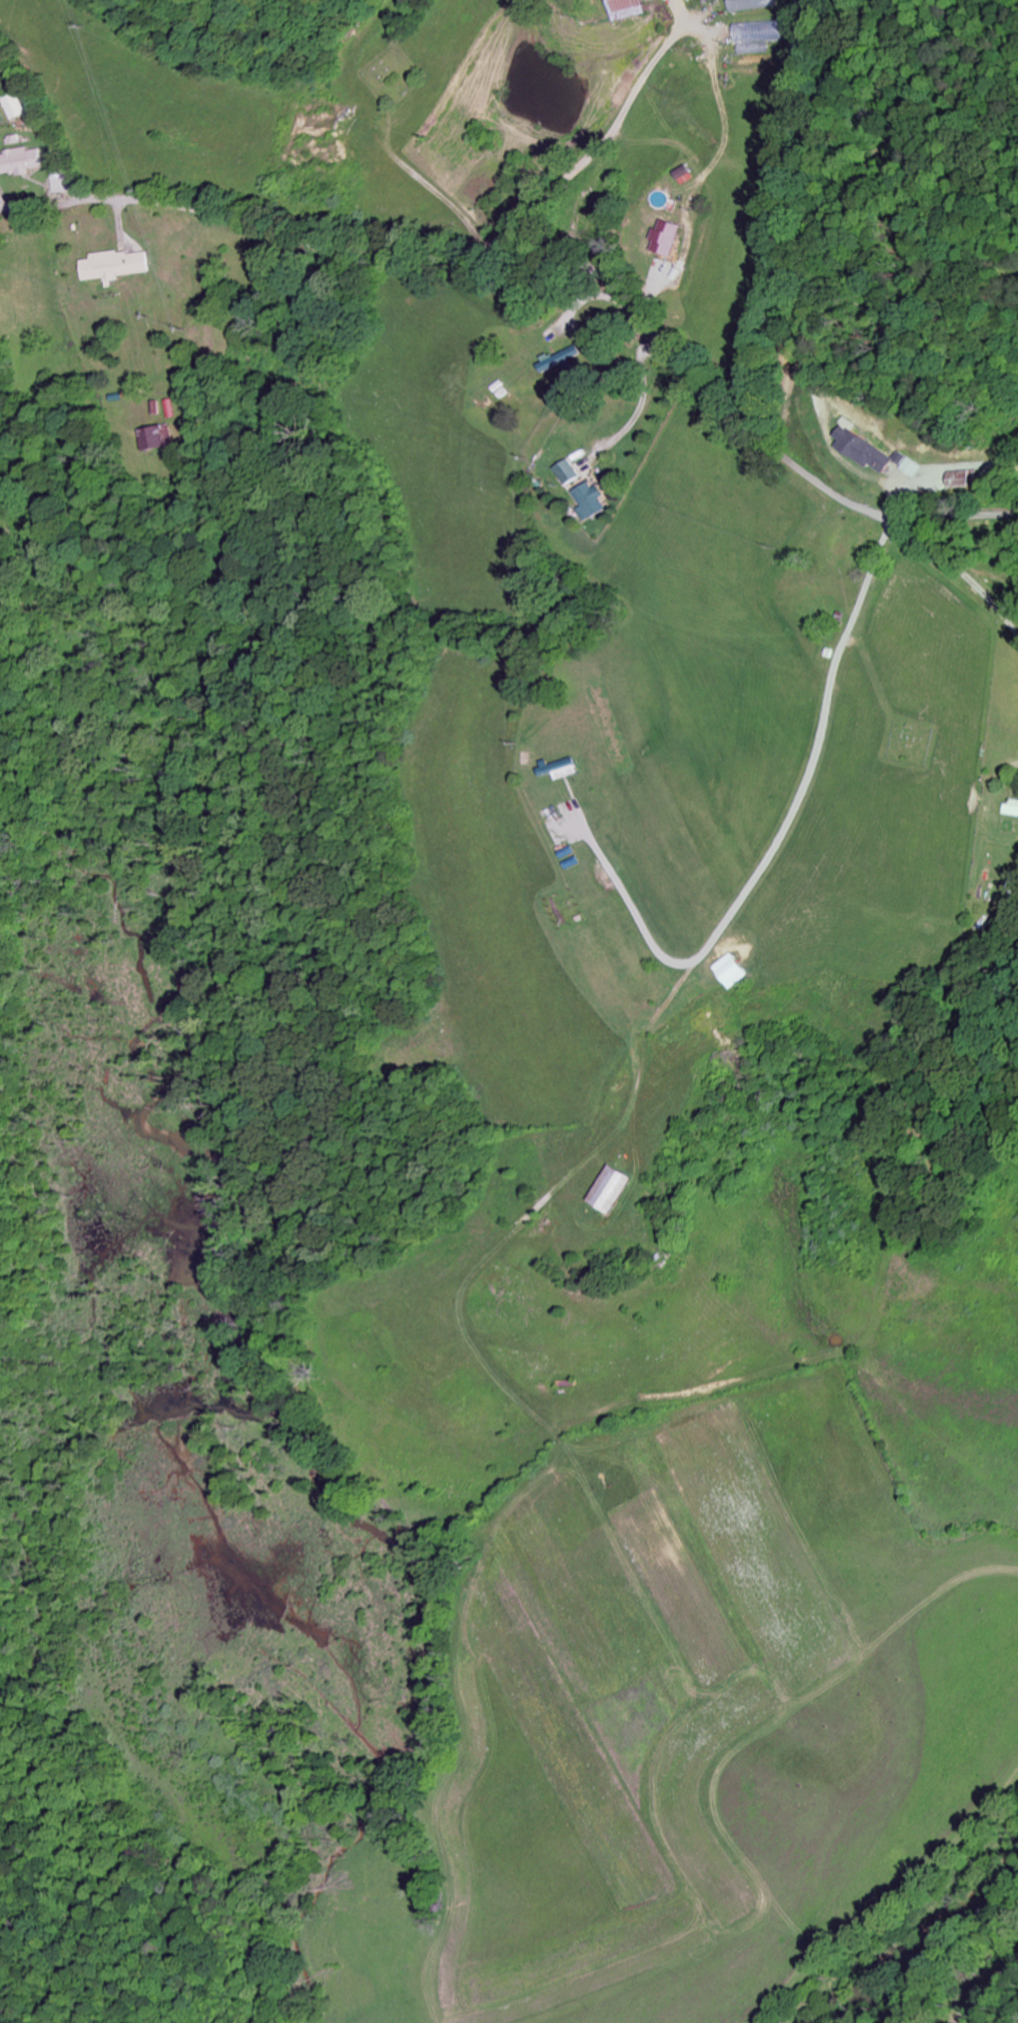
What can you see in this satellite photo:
building: (749, 4)
building: (756, 36)
building: (14, 107)
road: (41, 127)
building: (18, 162)
building: (688, 175)
building: (670, 238)
road: (552, 263)
building: (115, 266)
building: (162, 438)
building: (863, 451)
building: (909, 468)
building: (570, 472)
building: (964, 479)
building: (591, 502)
building: (1011, 808)
building: (732, 972)
building: (613, 1191)
road: (990, 1992)

